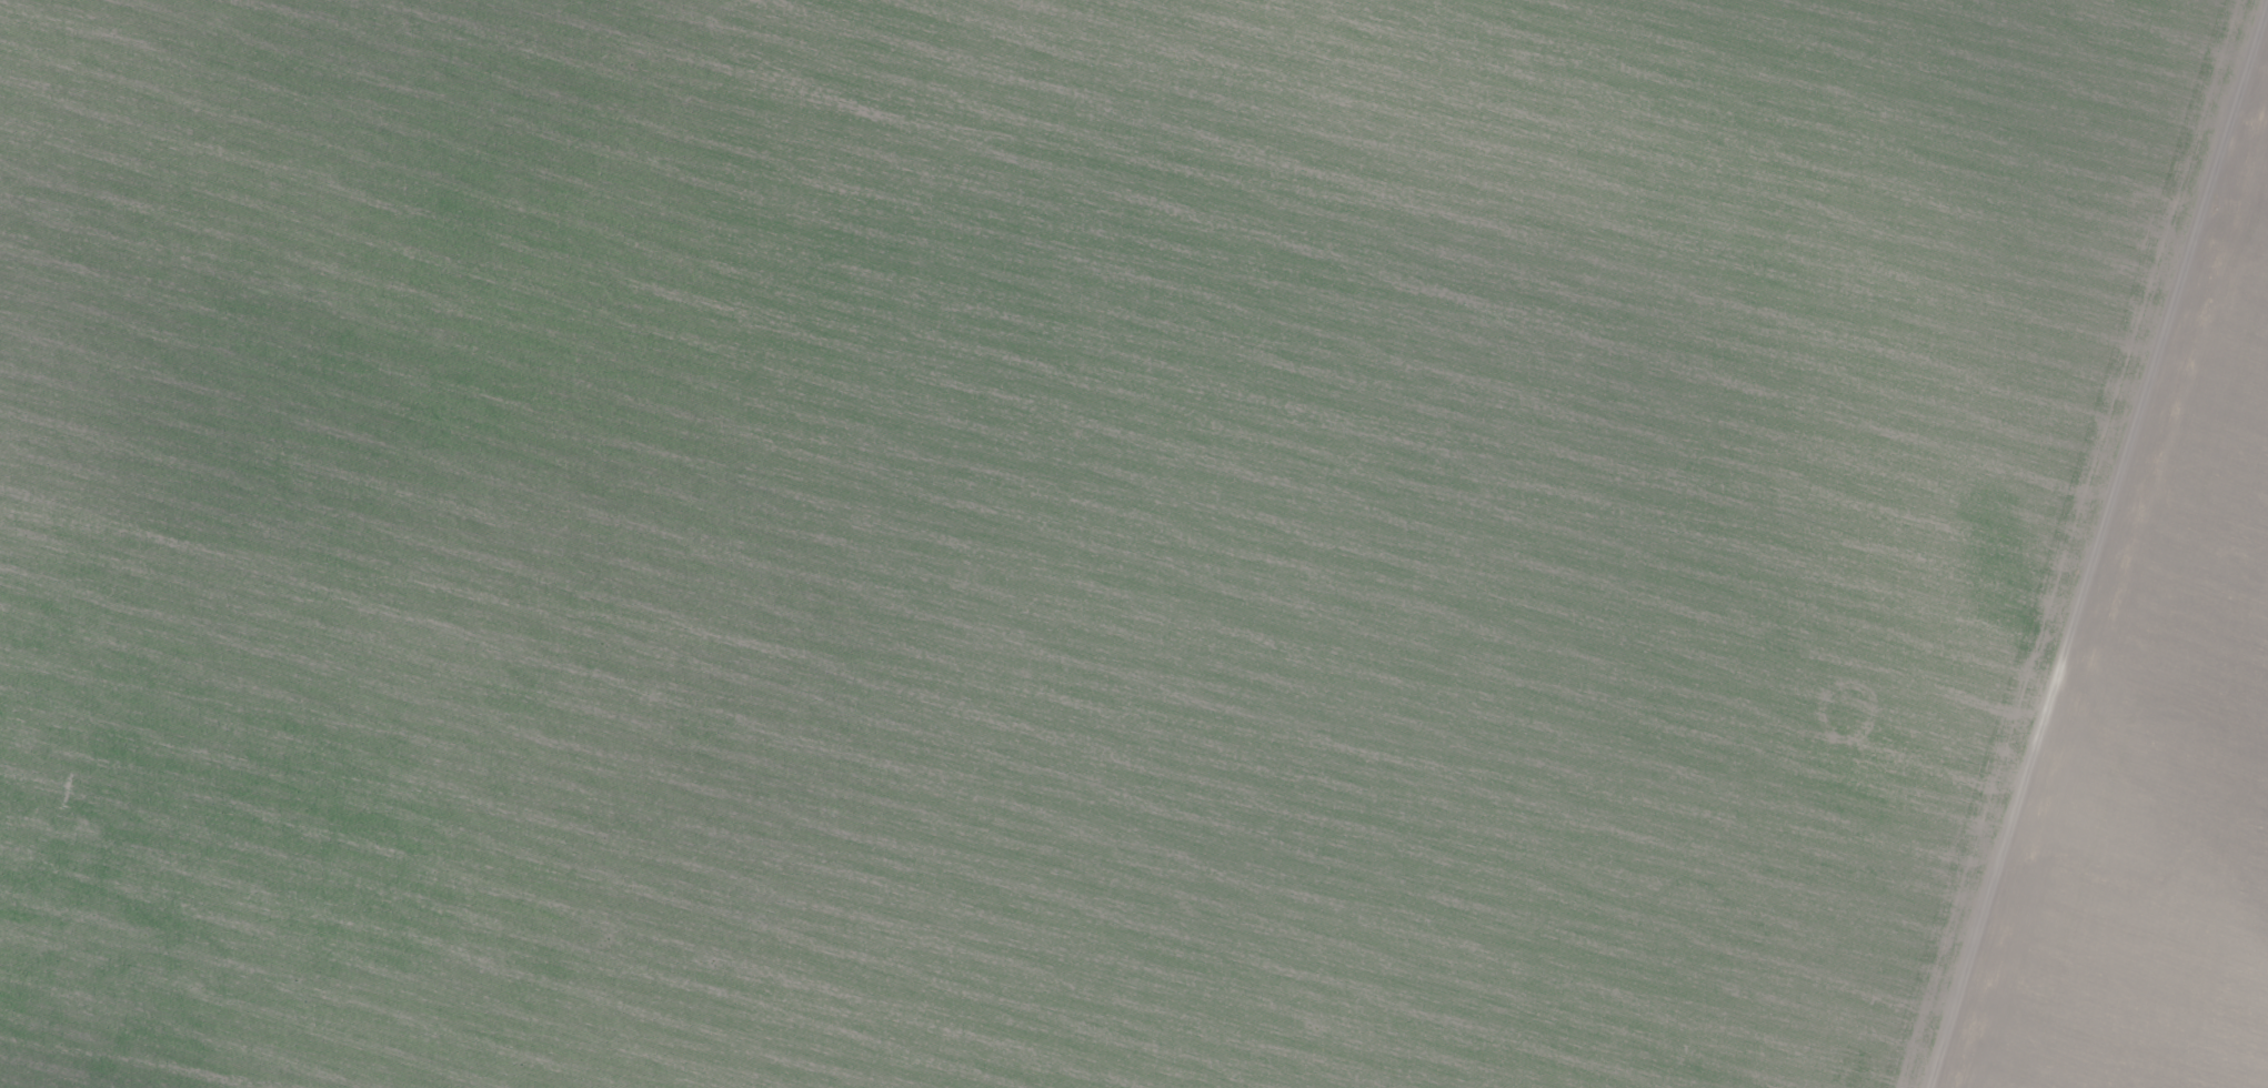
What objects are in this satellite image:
road: (2108, 560)

